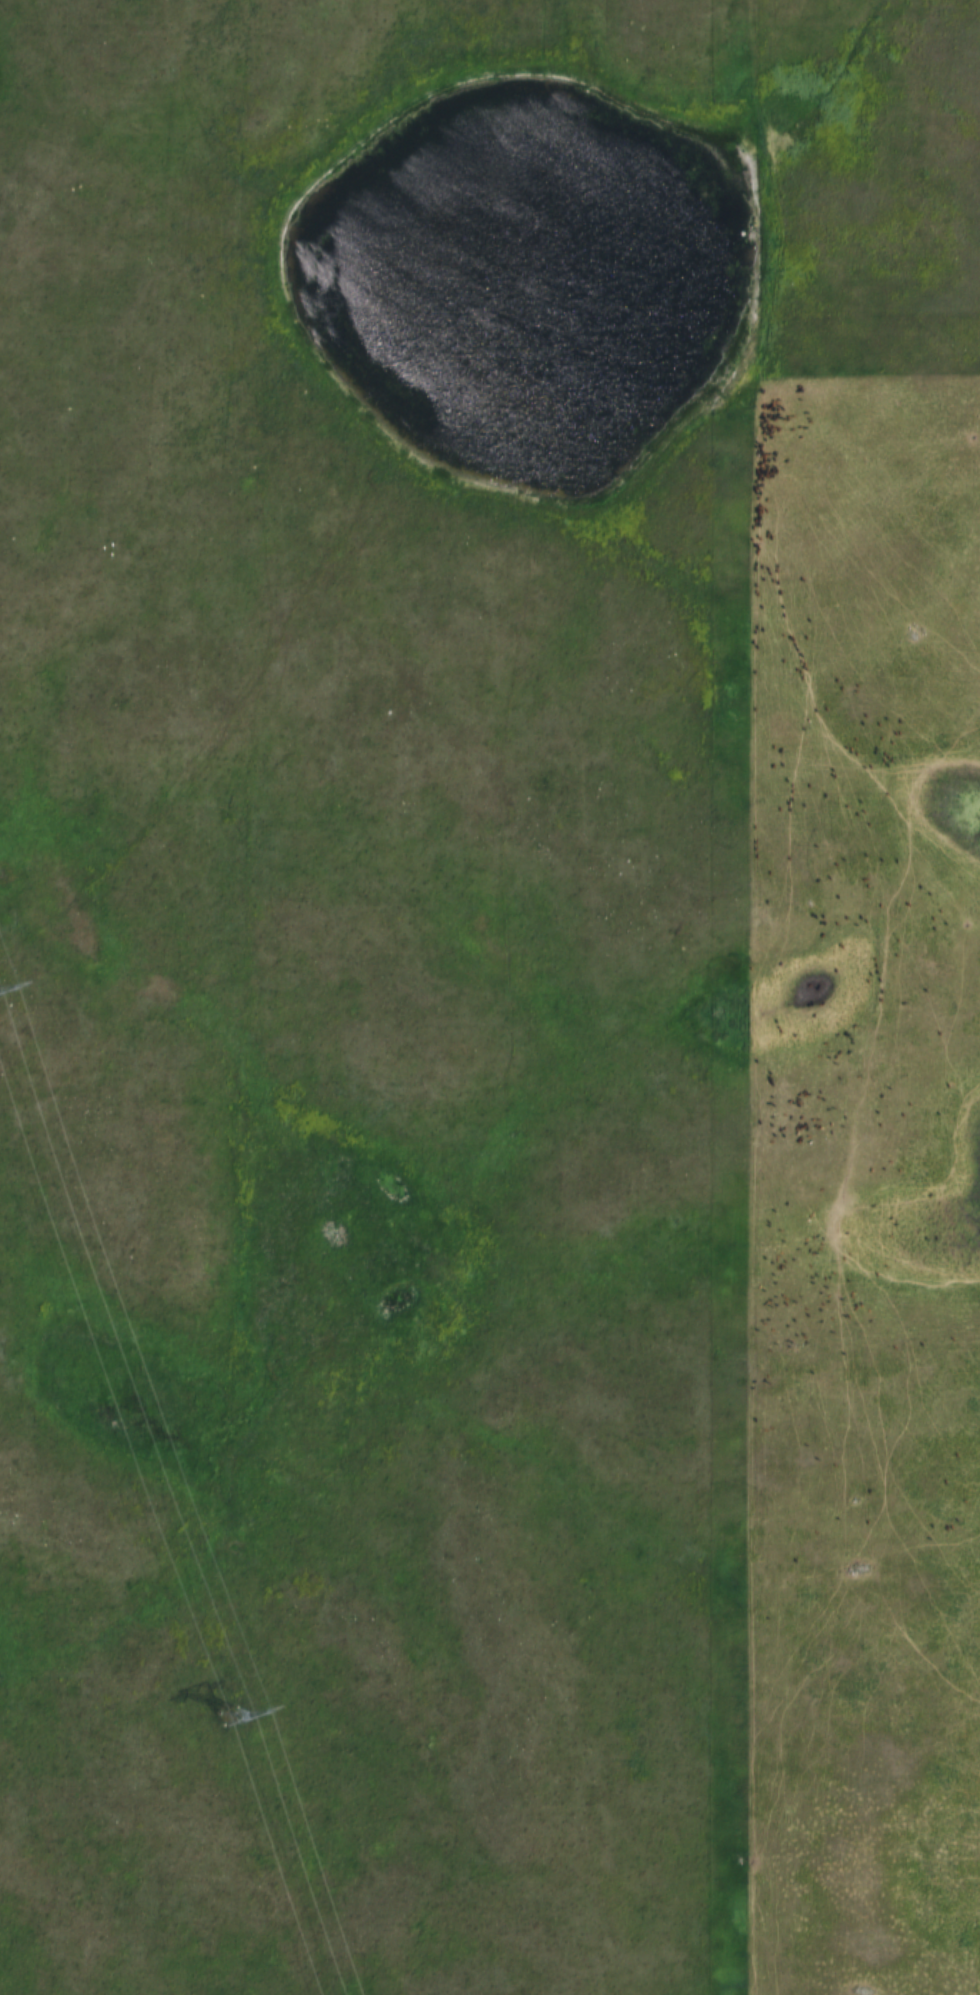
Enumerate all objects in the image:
power tower: (231, 1717)

